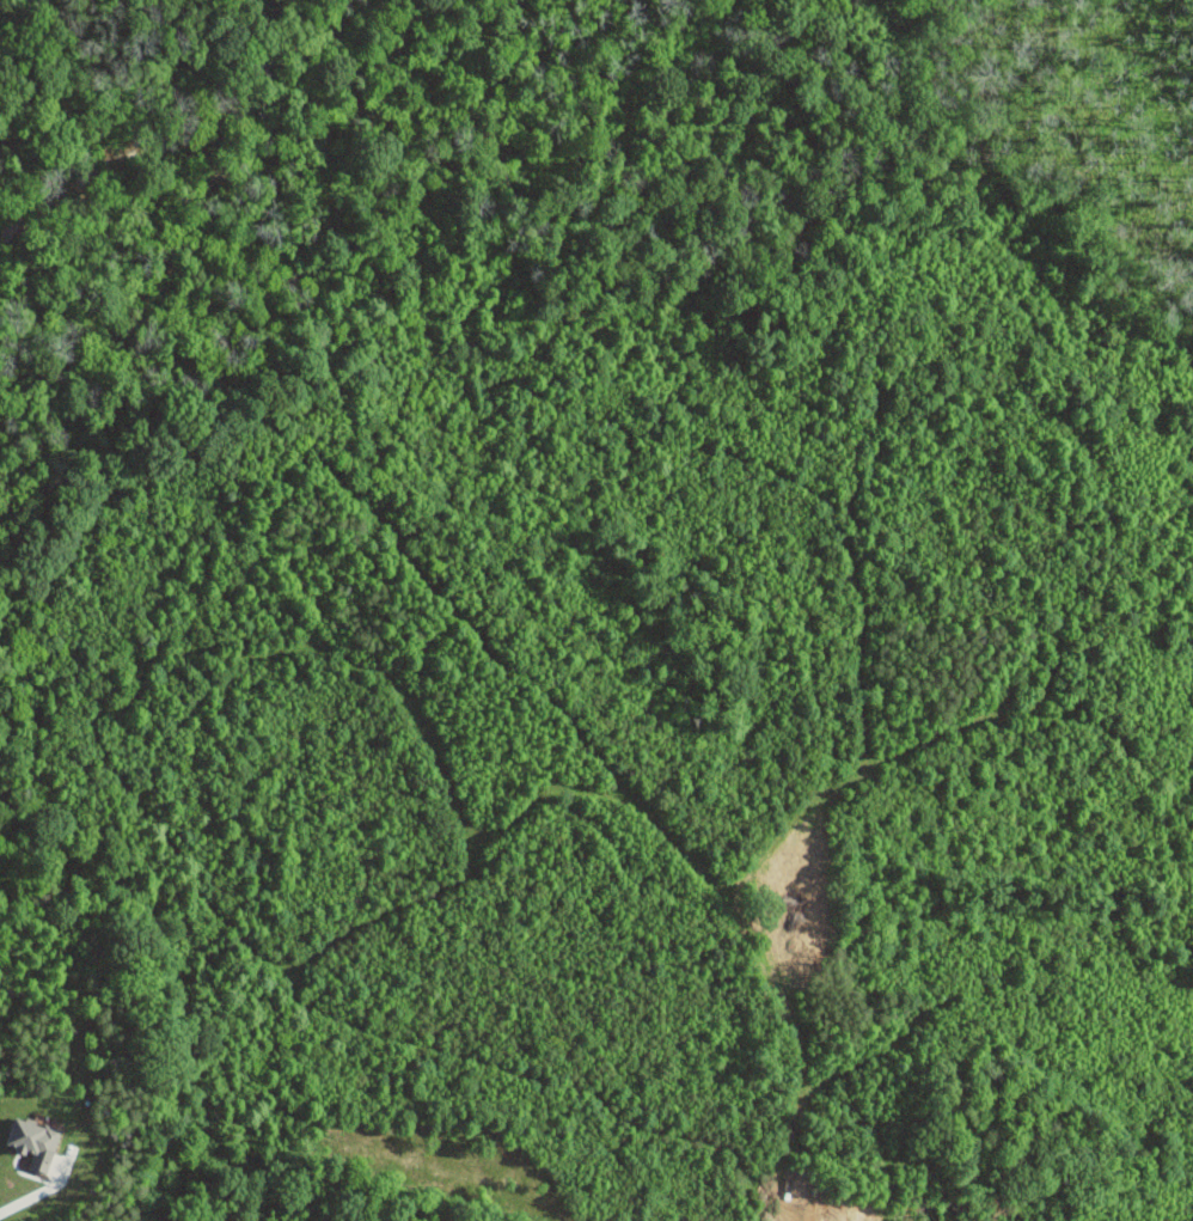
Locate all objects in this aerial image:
building: (33, 1142)
road: (41, 1185)

